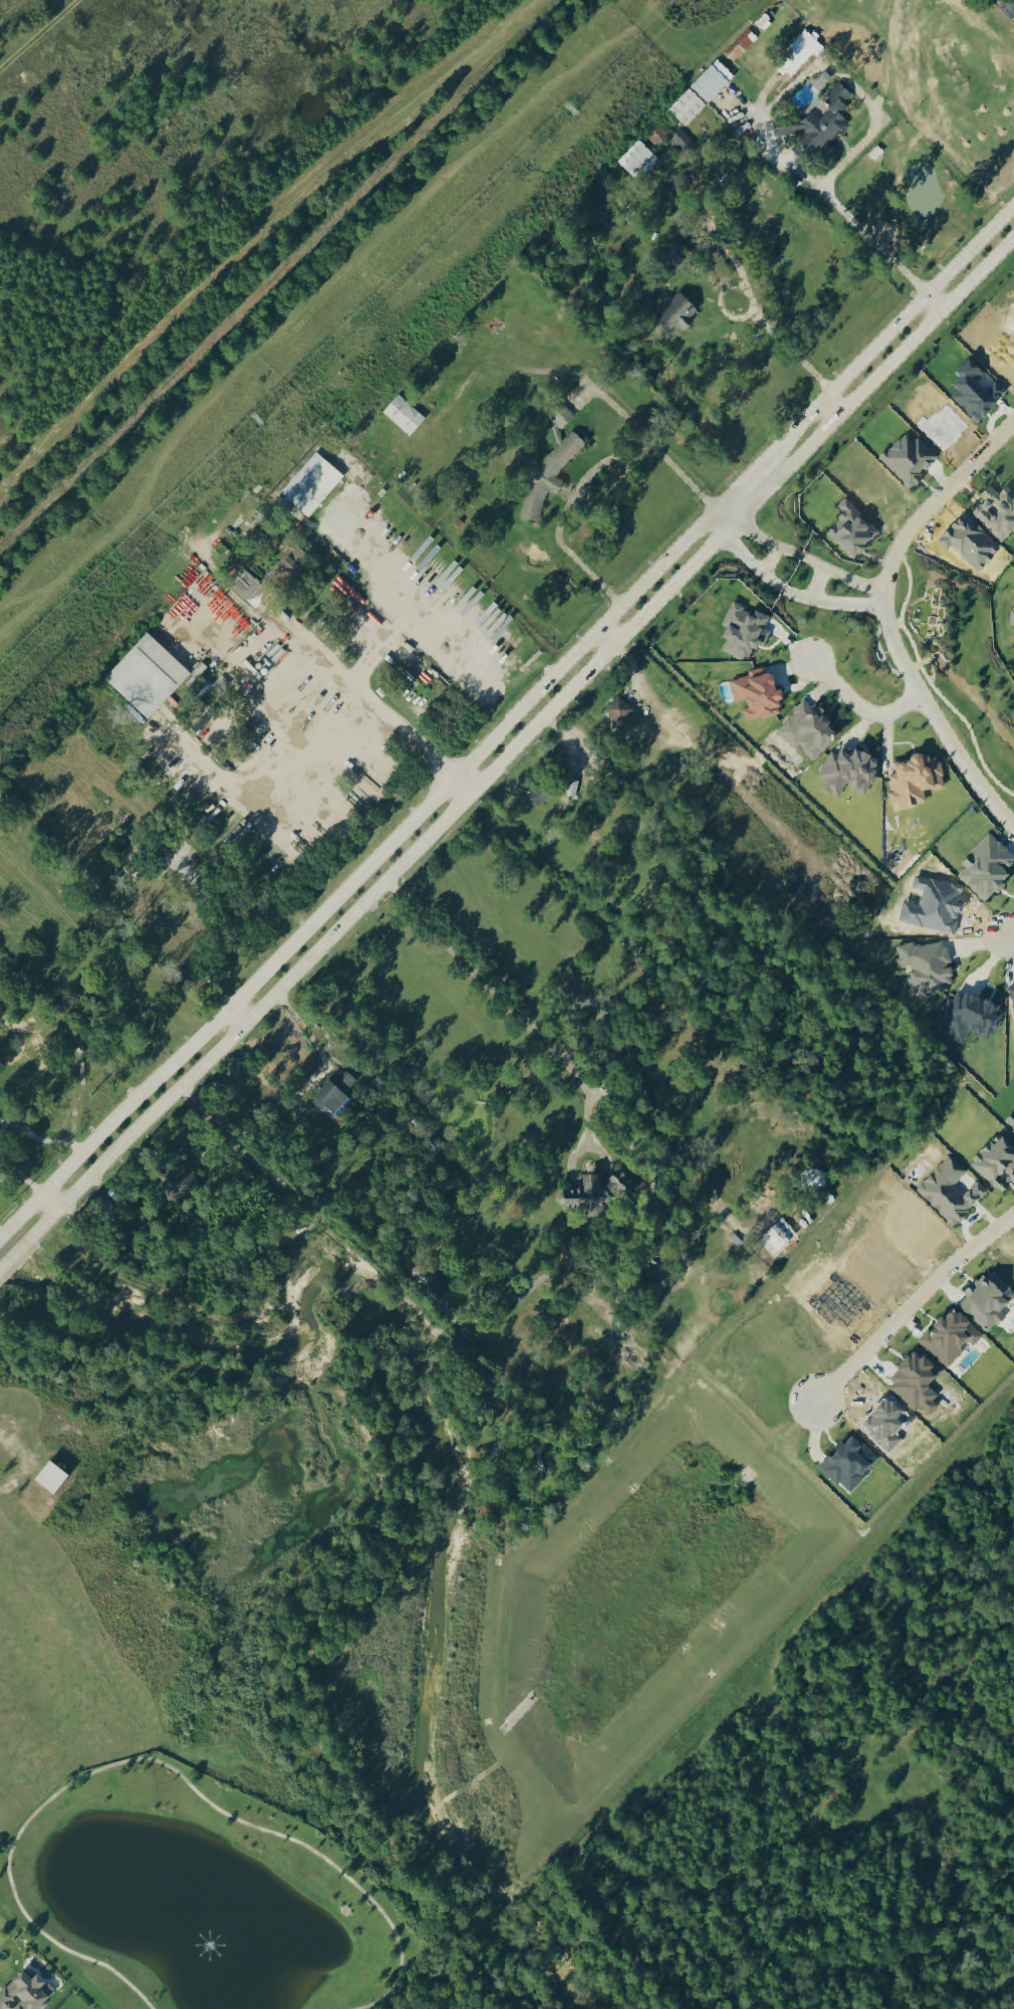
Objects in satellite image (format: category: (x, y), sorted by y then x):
building: (743, 48)
road: (745, 51)
building: (805, 55)
building: (826, 84)
road: (861, 93)
building: (704, 96)
power tower: (573, 114)
building: (820, 127)
road: (773, 133)
building: (660, 139)
building: (683, 143)
building: (640, 163)
road: (259, 234)
road: (878, 243)
road: (938, 302)
road: (756, 303)
building: (681, 316)
road: (889, 335)
road: (831, 410)
building: (405, 417)
power tower: (255, 421)
road: (16, 445)
road: (654, 448)
building: (350, 465)
building: (554, 479)
building: (314, 486)
road: (740, 487)
road: (148, 501)
road: (937, 503)
building: (999, 515)
road: (566, 517)
building: (253, 524)
road: (800, 556)
road: (770, 560)
building: (288, 571)
road: (817, 585)
building: (249, 587)
road: (783, 590)
road: (412, 606)
building: (747, 635)
road: (609, 637)
road: (312, 641)
road: (381, 642)
road: (161, 646)
road: (237, 669)
building: (150, 678)
building: (762, 697)
road: (861, 708)
building: (623, 713)
road: (935, 718)
building: (812, 733)
road: (15, 739)
road: (521, 742)
road: (274, 756)
building: (852, 774)
building: (918, 784)
road: (462, 786)
road: (362, 872)
road: (1009, 939)
road: (237, 1016)
road: (306, 1031)
building: (340, 1095)
road: (658, 1164)
building: (999, 1168)
road: (19, 1176)
building: (182, 1186)
building: (606, 1193)
building: (953, 1196)
road: (51, 1200)
road: (3, 1234)
road: (344, 1246)
road: (13, 1255)
road: (912, 1307)
building: (954, 1343)
river: (448, 1452)
building: (853, 1468)
building: (56, 1481)
road: (152, 1758)
fountain: (209, 1945)
building: (26, 1993)

